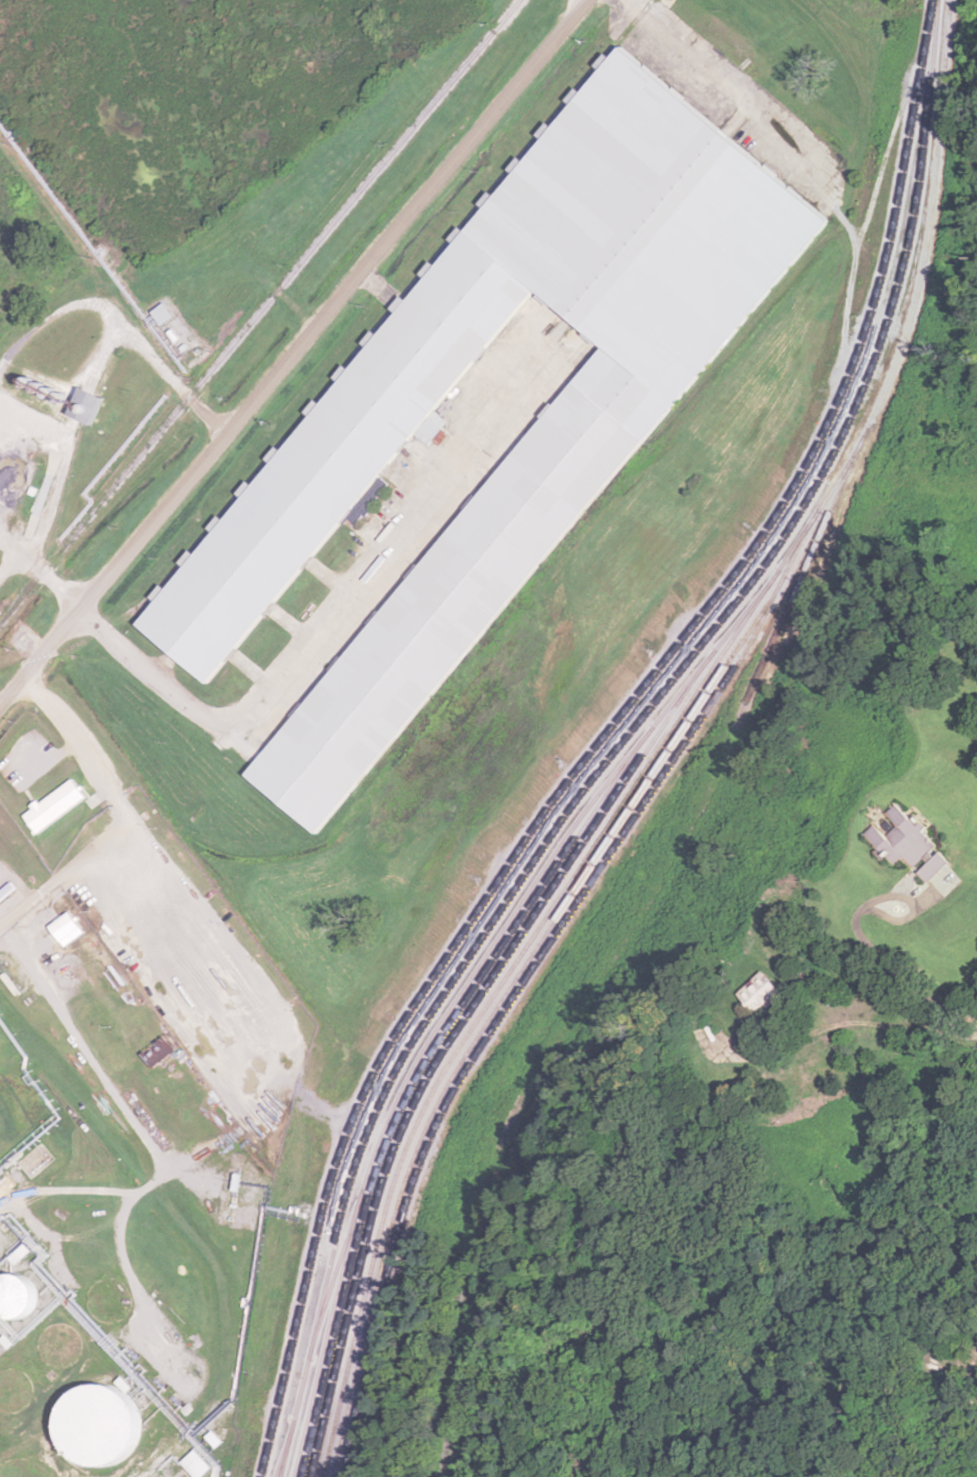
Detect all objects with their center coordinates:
railway: (245, 330)
road: (289, 349)
building: (545, 486)
railway: (815, 490)
railway: (611, 737)
railway: (662, 745)
building: (19, 753)
building: (902, 837)
building: (935, 867)
railway: (505, 932)
railway: (612, 954)
railway: (521, 976)
building: (763, 993)
railway: (466, 1005)
railway: (508, 1010)
railway: (450, 1048)
building: (161, 1051)
railway: (355, 1172)
railway: (335, 1277)
building: (13, 1298)
railway: (305, 1301)
railway: (335, 1305)
railway: (286, 1452)

